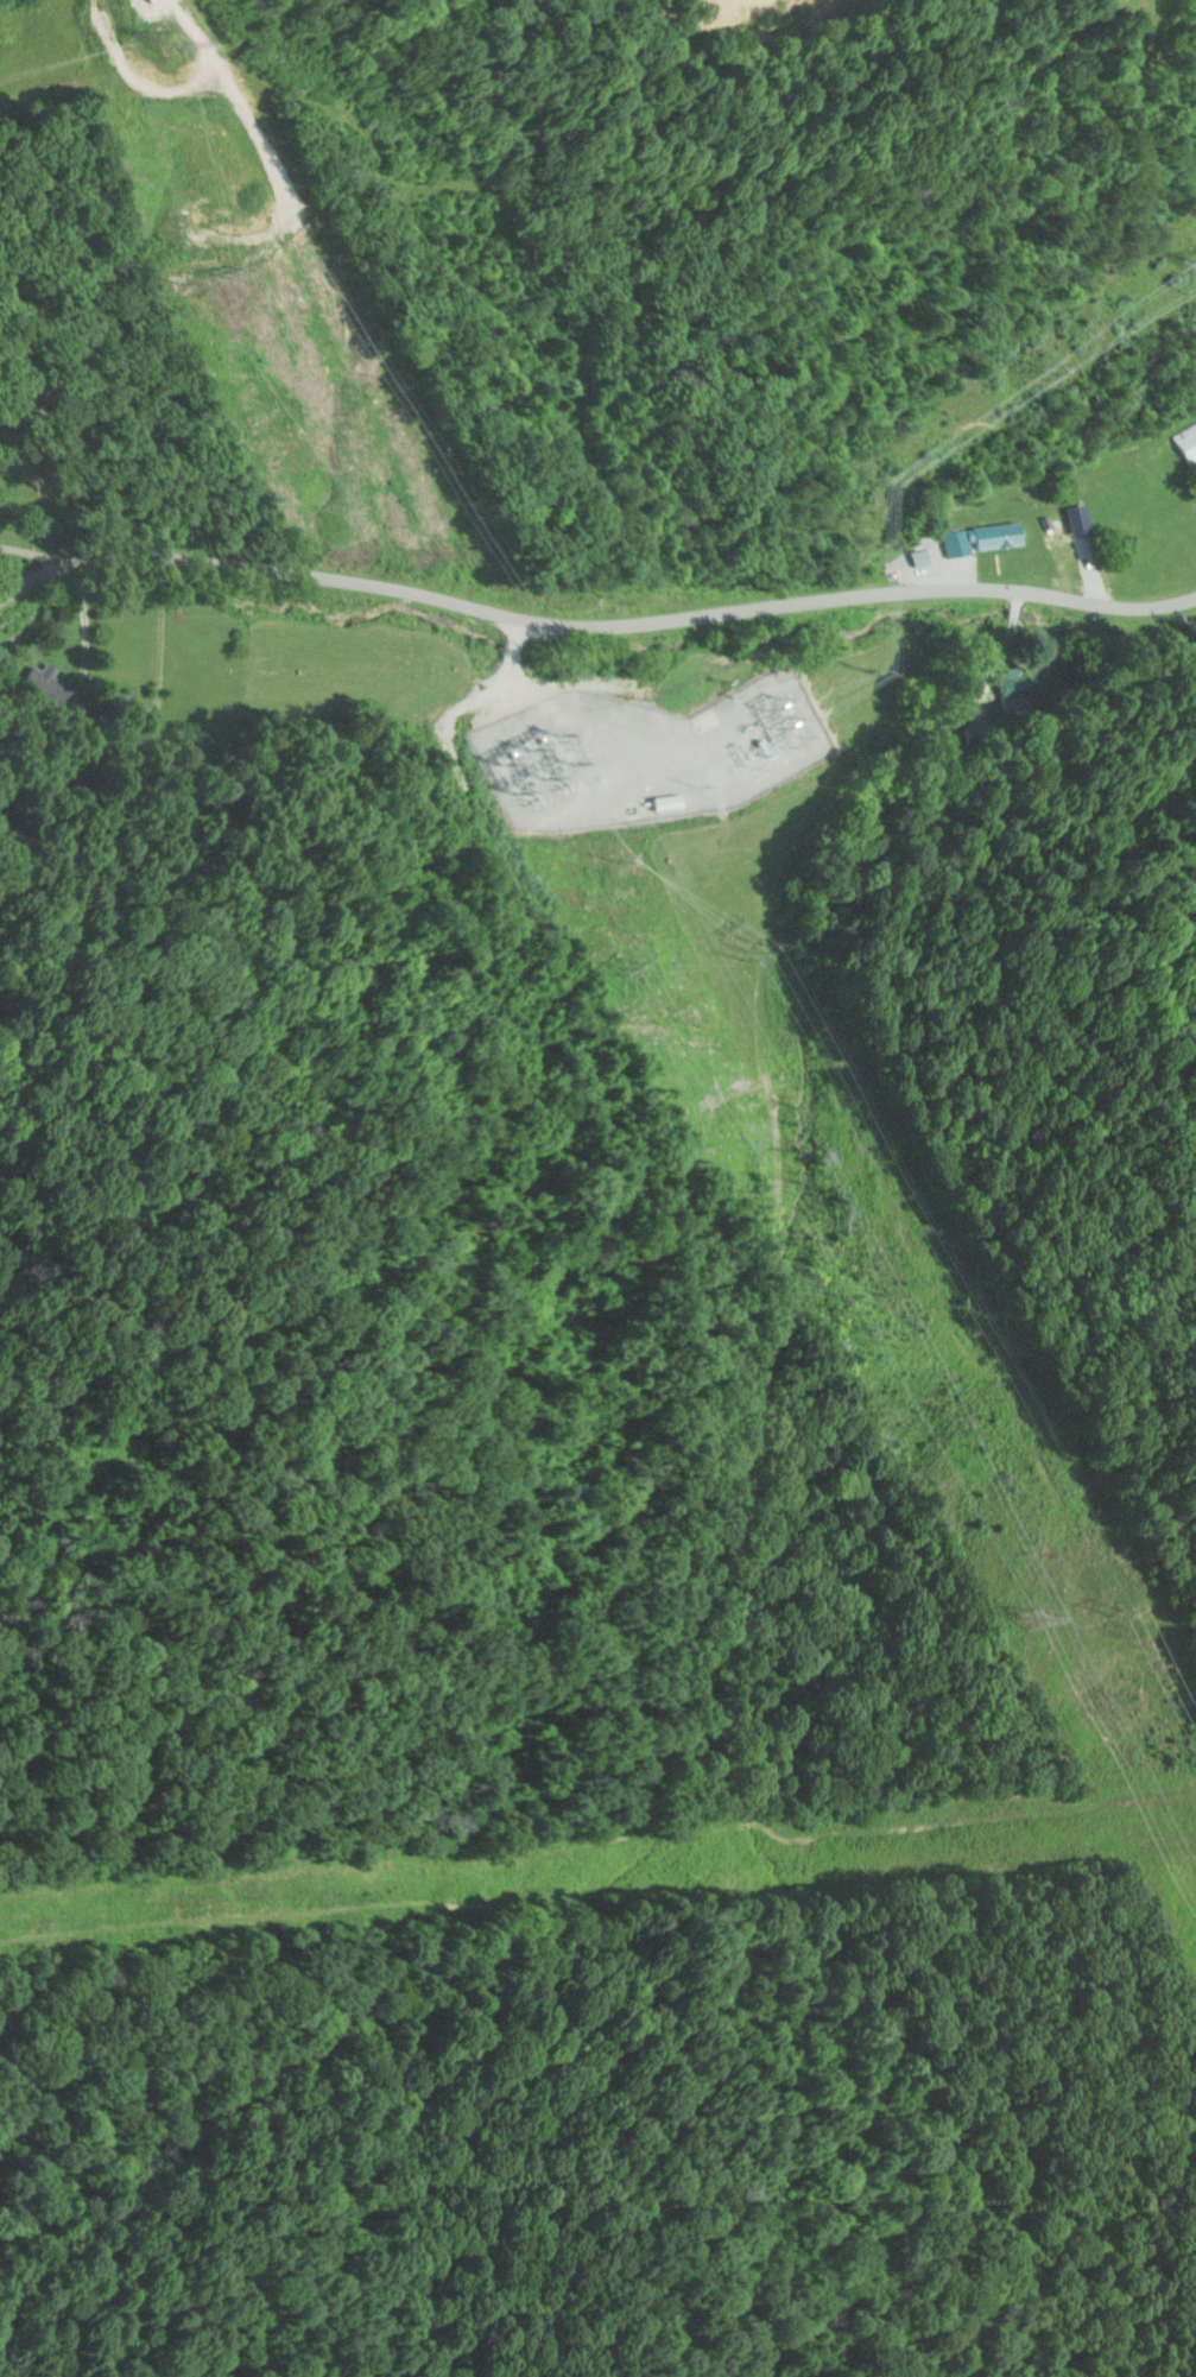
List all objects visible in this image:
power tower: (175, 27)
power tower: (150, 33)
power tower: (1195, 263)
power tower: (280, 264)
power tower: (257, 271)
building: (1189, 440)
power tower: (871, 488)
building: (987, 539)
building: (928, 558)
road: (593, 628)
power tower: (868, 671)
power substation: (652, 756)
road: (53, 786)
power tower: (757, 955)
power tower: (615, 968)
power tower: (1115, 1617)
power tower: (1029, 1627)

